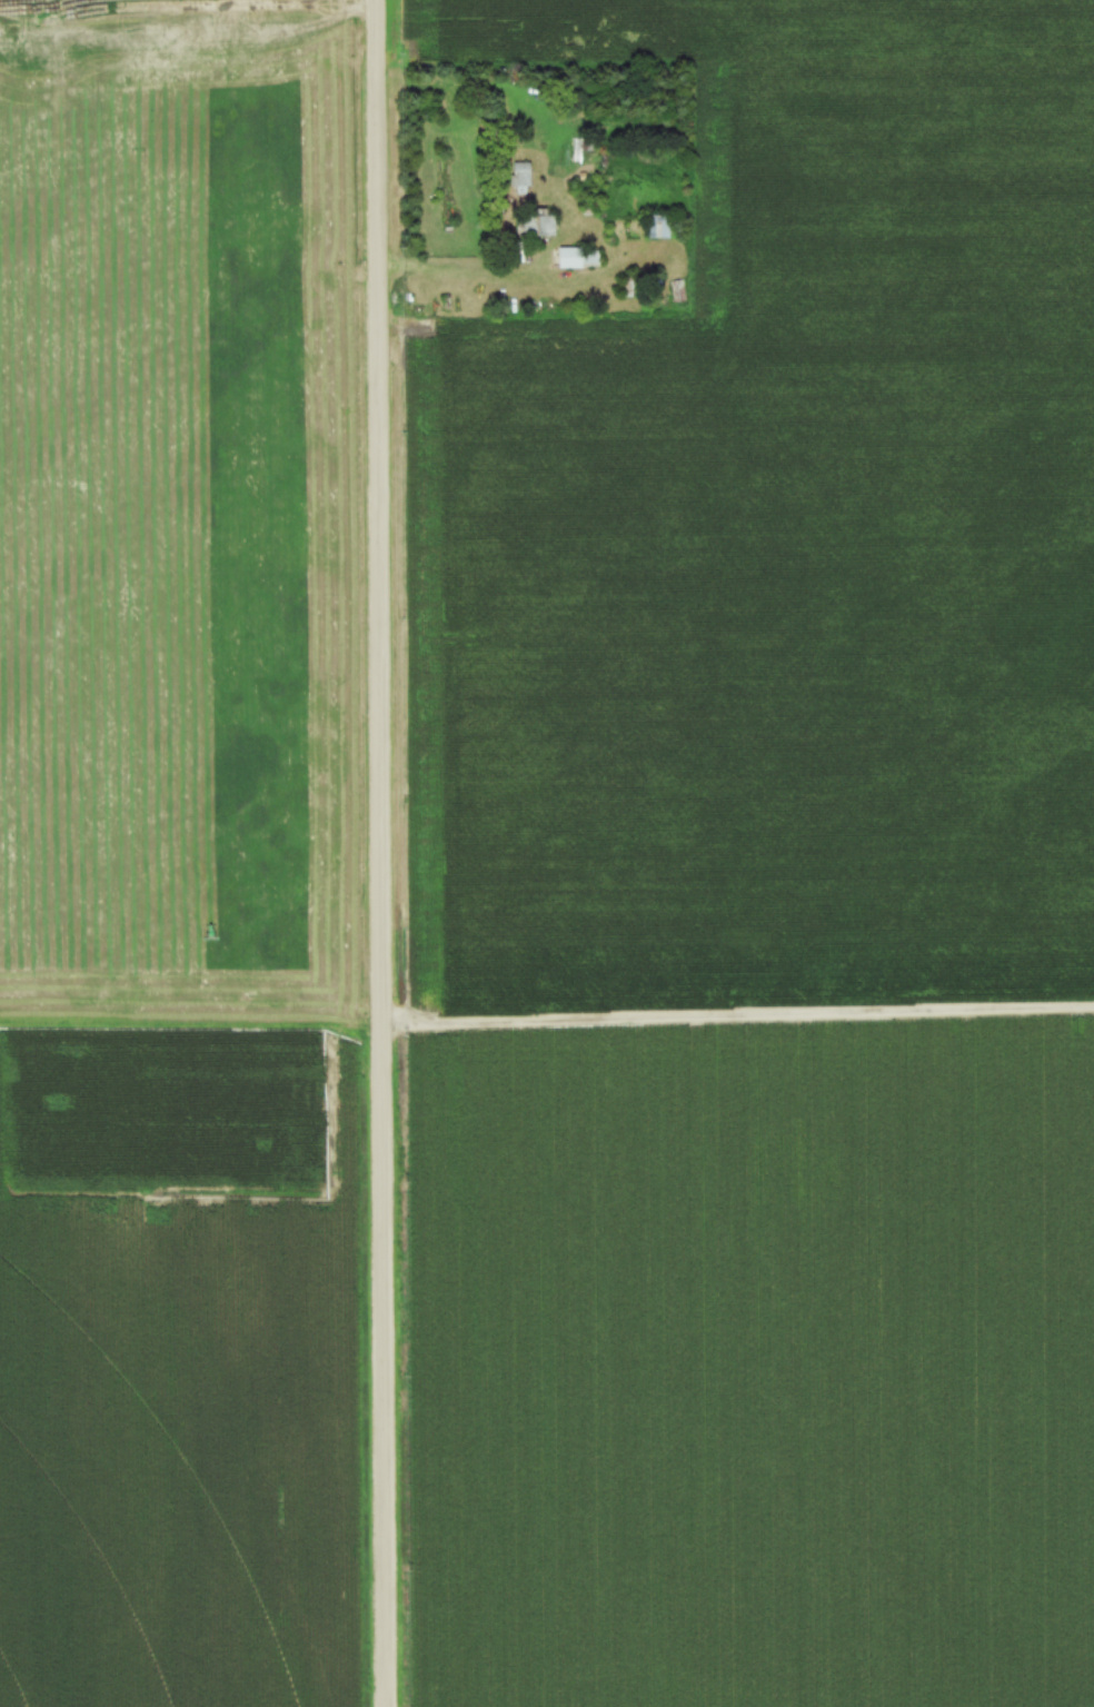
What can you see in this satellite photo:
building: (521, 166)
building: (535, 221)
building: (655, 225)
building: (575, 256)
road: (452, 266)
building: (678, 291)
road: (380, 853)
crop: (177, 857)
crop: (764, 895)

